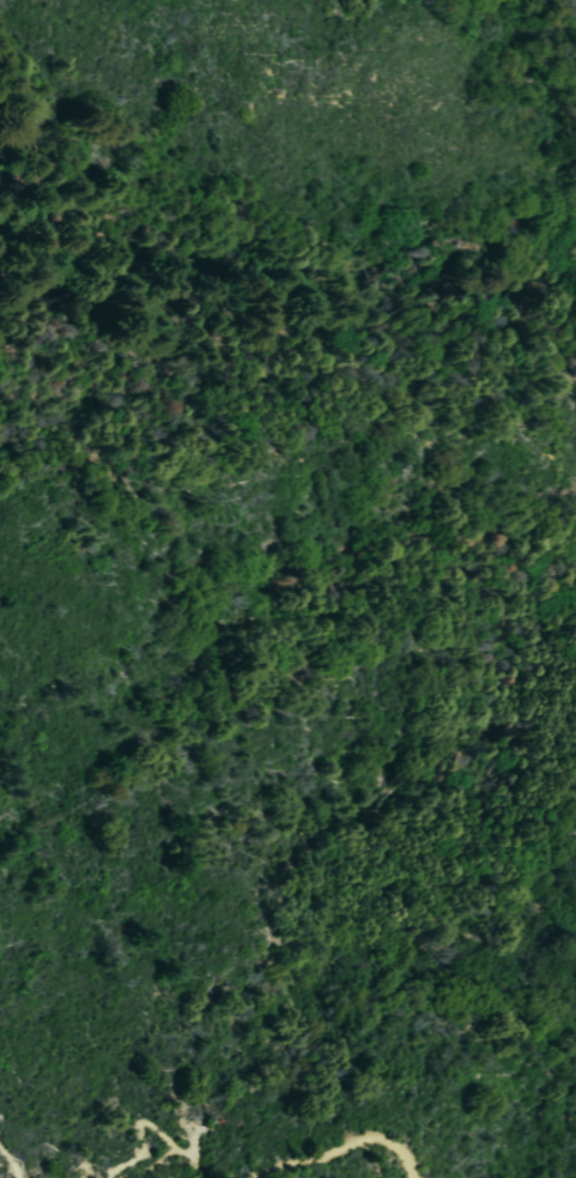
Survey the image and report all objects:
road: (338, 1149)

